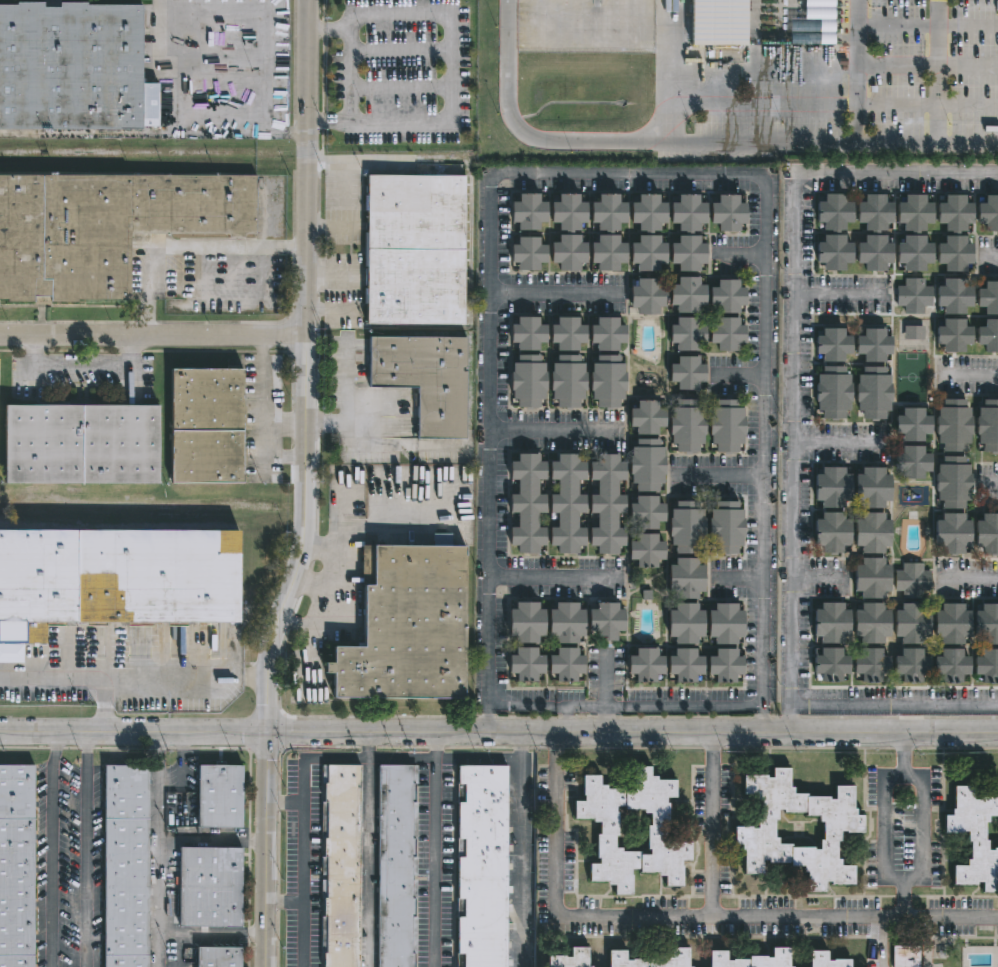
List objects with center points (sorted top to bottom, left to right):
building: (716, 21)
building: (813, 23)
road: (165, 34)
building: (71, 66)
road: (856, 72)
road: (938, 72)
road: (349, 76)
road: (690, 145)
road: (896, 173)
road: (625, 175)
building: (526, 210)
building: (567, 211)
building: (606, 211)
building: (646, 211)
building: (833, 211)
building: (988, 211)
building: (686, 212)
building: (726, 212)
building: (873, 212)
building: (913, 212)
building: (954, 212)
building: (103, 225)
road: (189, 248)
building: (413, 248)
building: (567, 251)
building: (832, 251)
building: (526, 252)
building: (606, 252)
building: (646, 252)
building: (686, 252)
building: (873, 252)
building: (913, 252)
building: (953, 252)
road: (553, 294)
building: (686, 294)
road: (838, 294)
building: (645, 295)
building: (726, 295)
building: (913, 295)
building: (953, 295)
building: (988, 297)
building: (525, 333)
building: (565, 333)
building: (605, 333)
building: (685, 333)
building: (726, 333)
building: (953, 334)
building: (988, 334)
road: (154, 335)
building: (832, 344)
building: (872, 344)
road: (308, 368)
building: (685, 372)
road: (88, 373)
road: (968, 376)
building: (422, 379)
road: (348, 380)
building: (525, 380)
building: (566, 380)
building: (606, 381)
building: (831, 391)
building: (872, 391)
road: (261, 401)
building: (644, 417)
road: (284, 423)
building: (912, 424)
building: (952, 424)
building: (202, 425)
building: (685, 425)
building: (725, 425)
building: (987, 425)
road: (551, 430)
road: (389, 432)
building: (77, 443)
road: (761, 443)
road: (488, 445)
road: (833, 445)
road: (790, 452)
road: (284, 458)
building: (911, 461)
building: (645, 464)
road: (717, 476)
road: (988, 480)
building: (952, 482)
building: (831, 487)
building: (871, 487)
building: (525, 503)
building: (565, 503)
building: (604, 503)
railway: (135, 504)
building: (645, 511)
building: (724, 526)
building: (684, 527)
road: (372, 530)
building: (831, 532)
building: (871, 532)
building: (951, 533)
building: (986, 533)
building: (644, 550)
building: (115, 578)
building: (684, 578)
building: (870, 578)
road: (970, 578)
road: (555, 579)
building: (911, 580)
road: (812, 582)
road: (313, 586)
road: (323, 612)
building: (604, 621)
building: (524, 622)
building: (564, 622)
building: (830, 622)
building: (684, 623)
building: (724, 623)
building: (871, 623)
building: (911, 623)
building: (950, 623)
building: (986, 624)
building: (404, 626)
road: (299, 627)
building: (524, 664)
building: (644, 664)
building: (830, 664)
building: (564, 665)
building: (683, 665)
building: (723, 665)
building: (870, 665)
building: (910, 665)
building: (950, 665)
building: (986, 666)
road: (135, 679)
road: (103, 705)
road: (521, 706)
road: (692, 706)
road: (559, 707)
road: (572, 708)
road: (605, 710)
road: (893, 710)
road: (761, 722)
road: (488, 723)
road: (133, 732)
road: (632, 732)
road: (442, 759)
building: (216, 796)
road: (713, 823)
road: (885, 823)
road: (923, 828)
building: (752, 830)
road: (302, 831)
building: (657, 831)
building: (973, 839)
road: (52, 849)
road: (86, 849)
road: (155, 849)
road: (268, 849)
road: (366, 849)
road: (434, 849)
road: (519, 849)
building: (395, 865)
building: (15, 866)
building: (123, 866)
building: (339, 866)
building: (479, 866)
building: (206, 888)
road: (683, 914)
building: (904, 956)
building: (215, 957)
building: (567, 959)
building: (648, 960)
building: (750, 960)
building: (823, 961)

